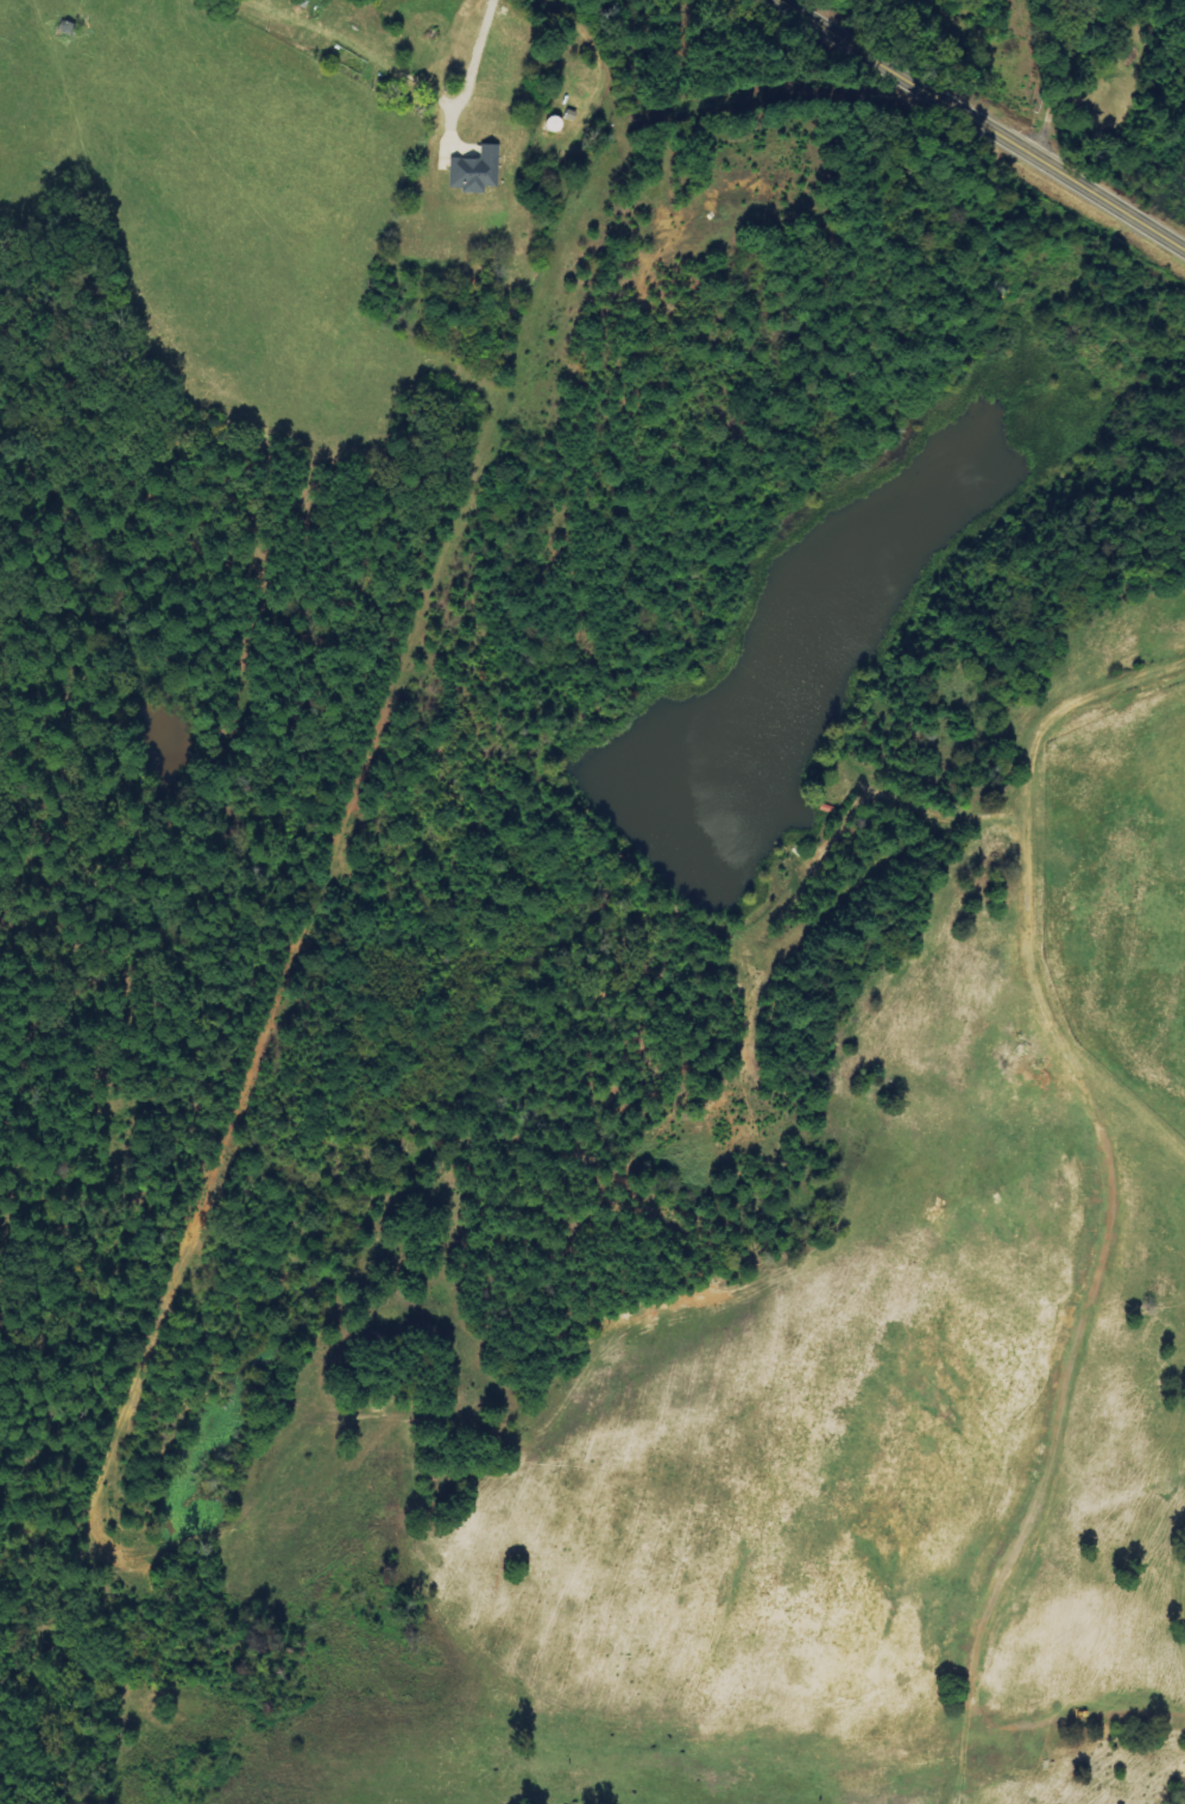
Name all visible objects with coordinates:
road: (401, 73)
road: (995, 121)
building: (475, 170)

